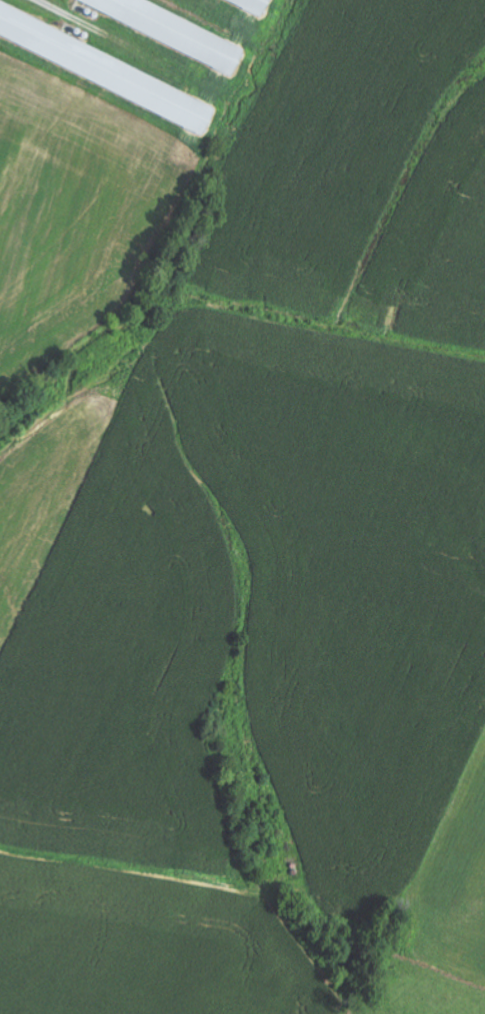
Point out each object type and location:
building: (257, 4)
building: (106, 68)

